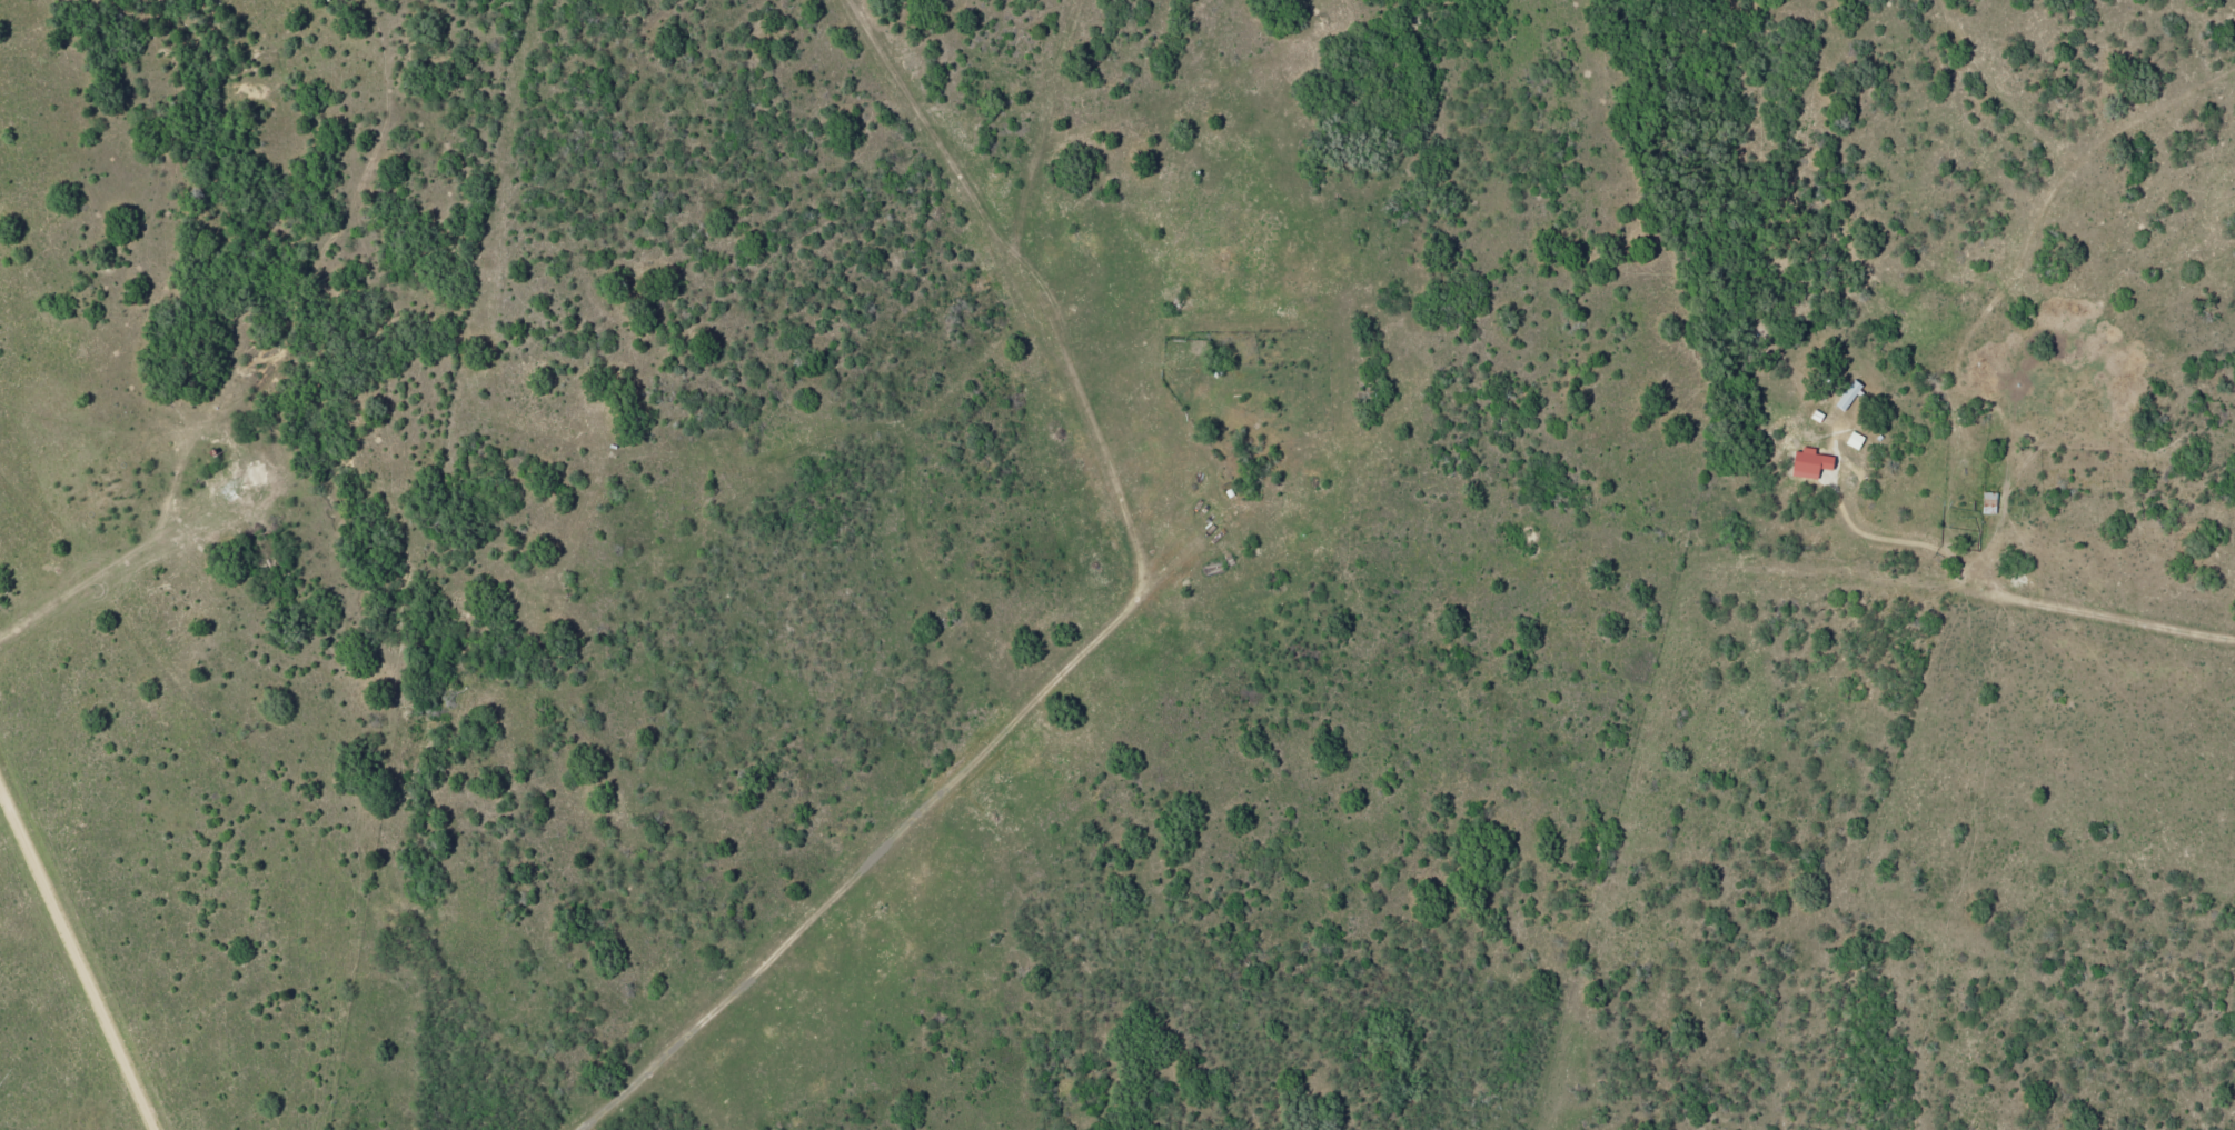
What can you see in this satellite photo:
building: (1850, 394)
building: (1993, 502)
road: (81, 949)

